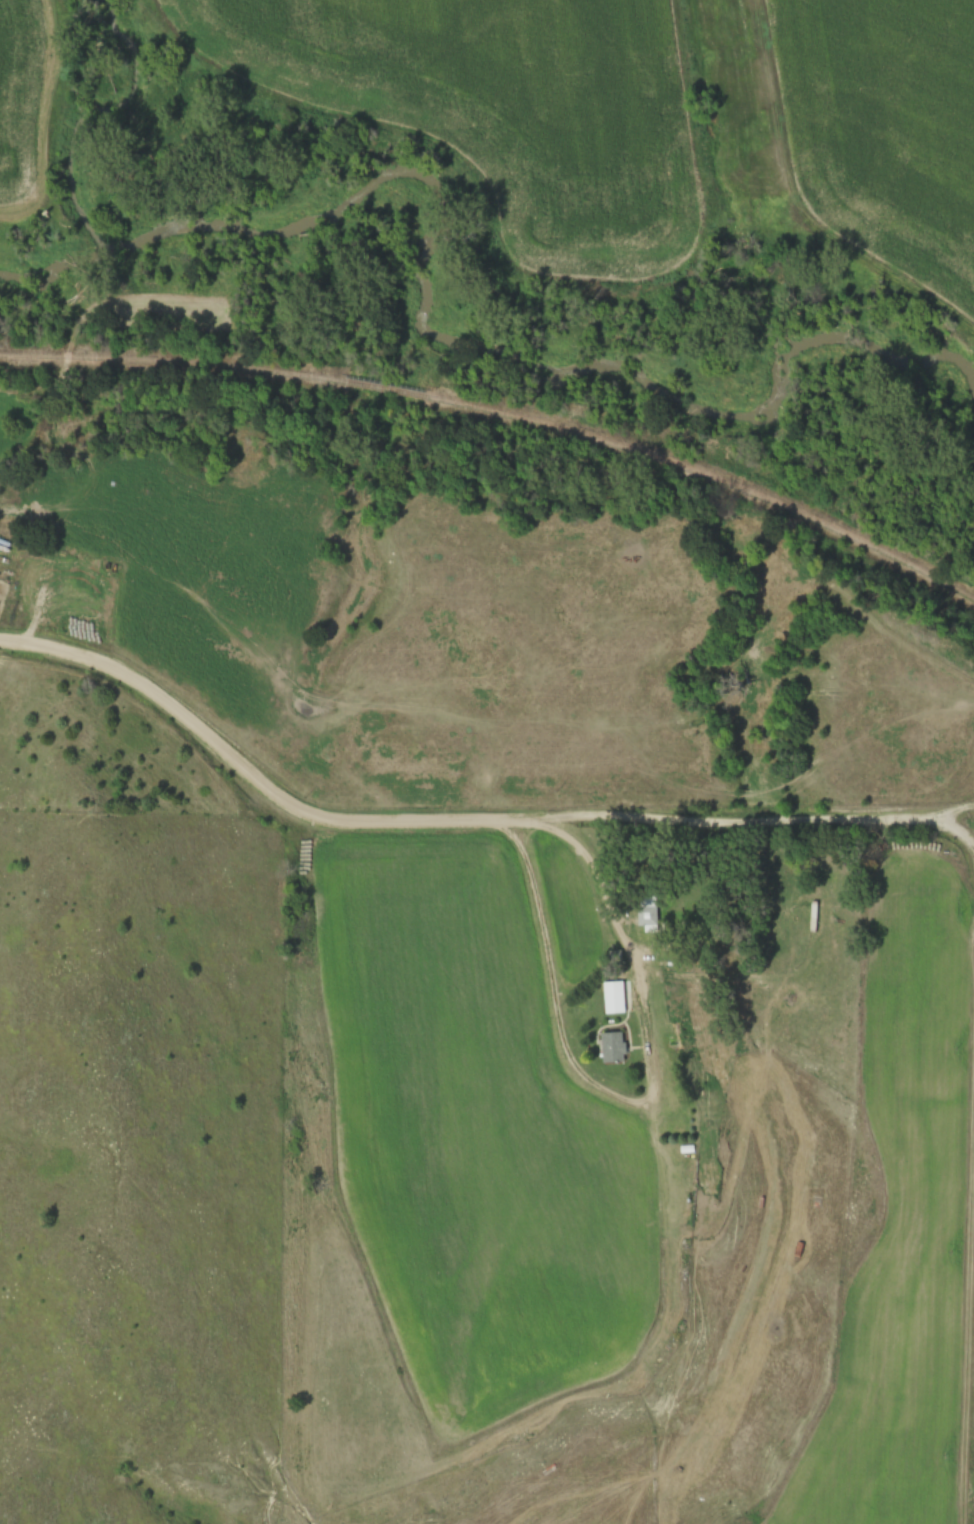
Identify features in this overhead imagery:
crop: (22, 96)
crop: (508, 102)
crop: (886, 142)
railway: (170, 362)
railway: (356, 380)
railway: (680, 466)
road: (45, 554)
road: (245, 769)
building: (645, 914)
building: (813, 916)
building: (613, 1003)
building: (610, 1048)
road: (655, 1100)

